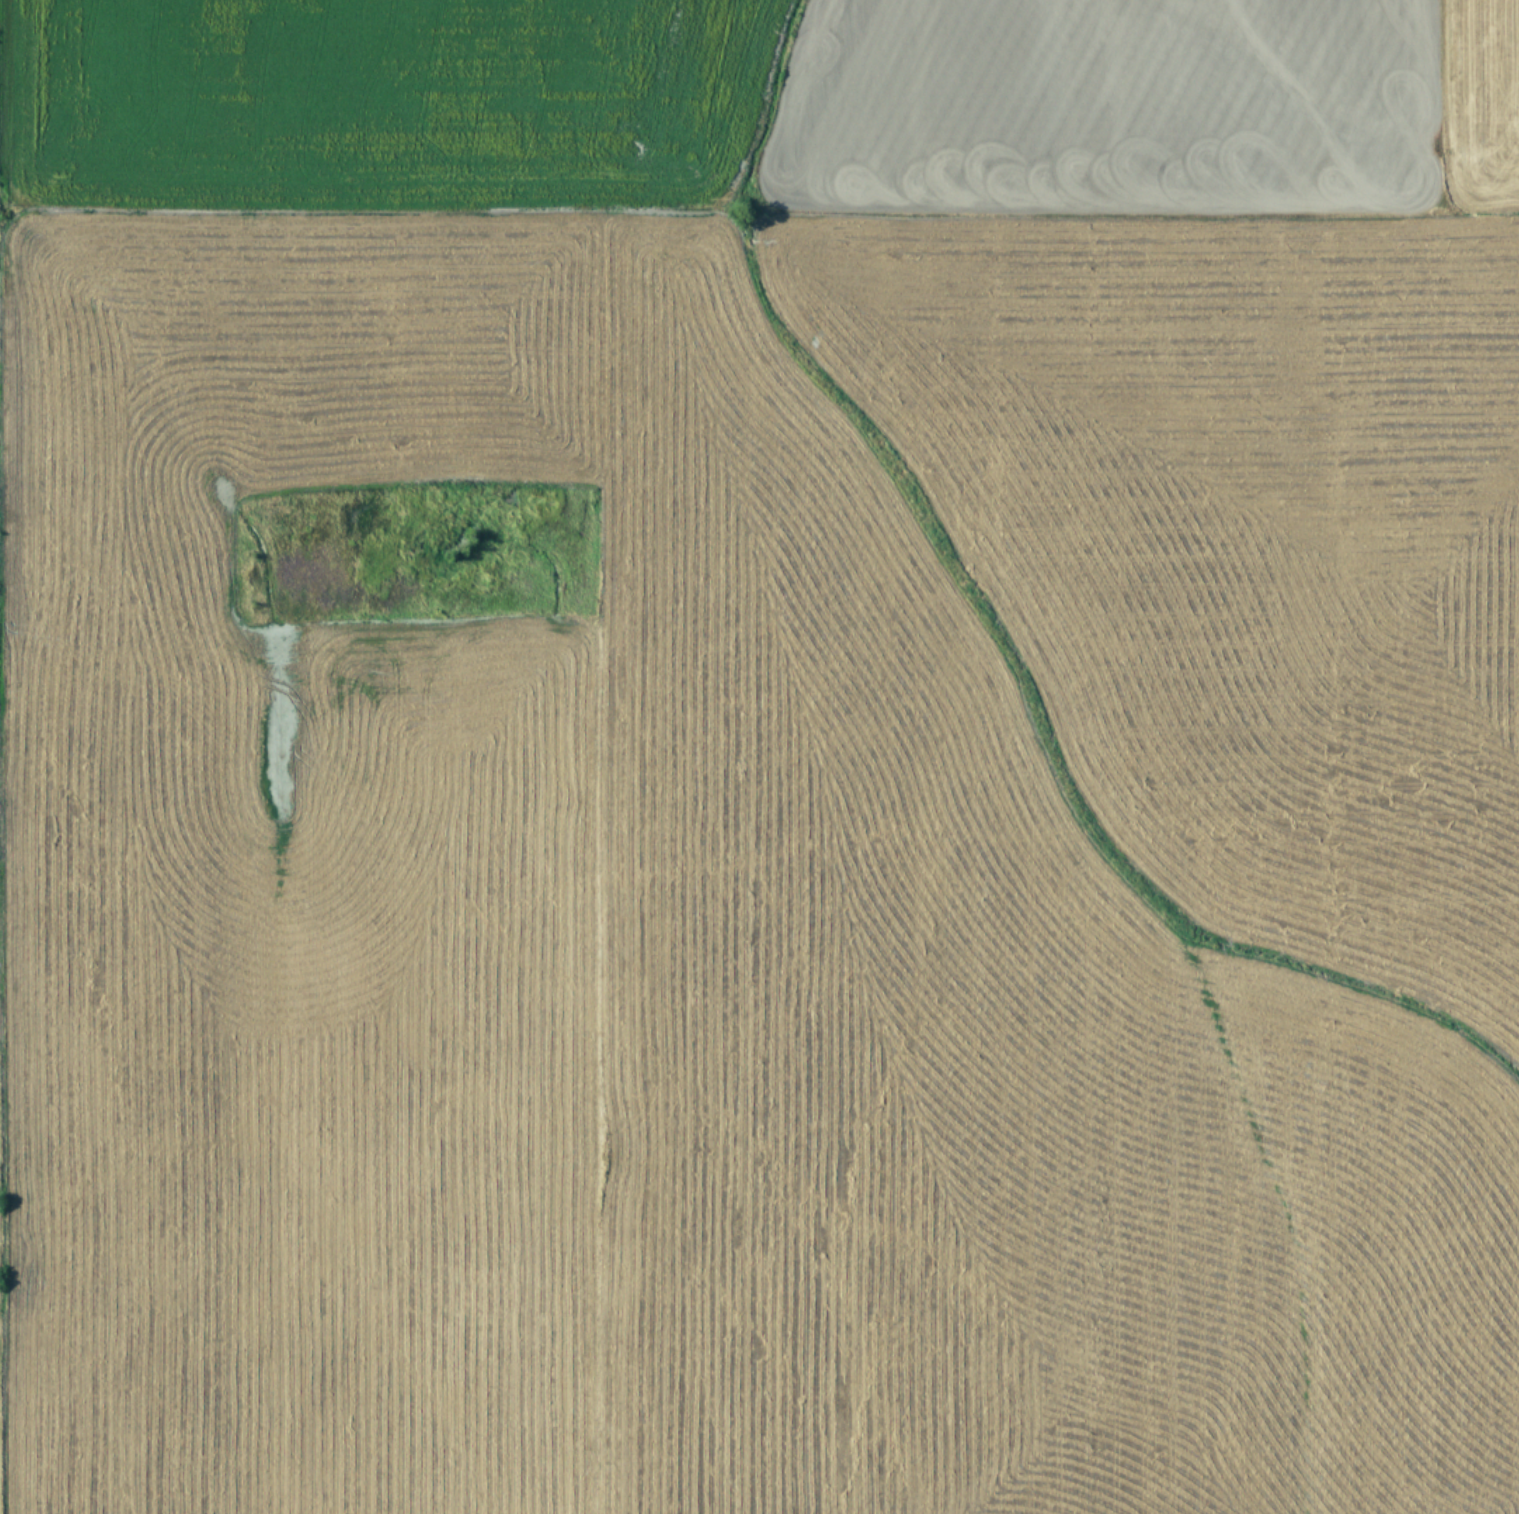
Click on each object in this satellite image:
crop: (770, 756)

